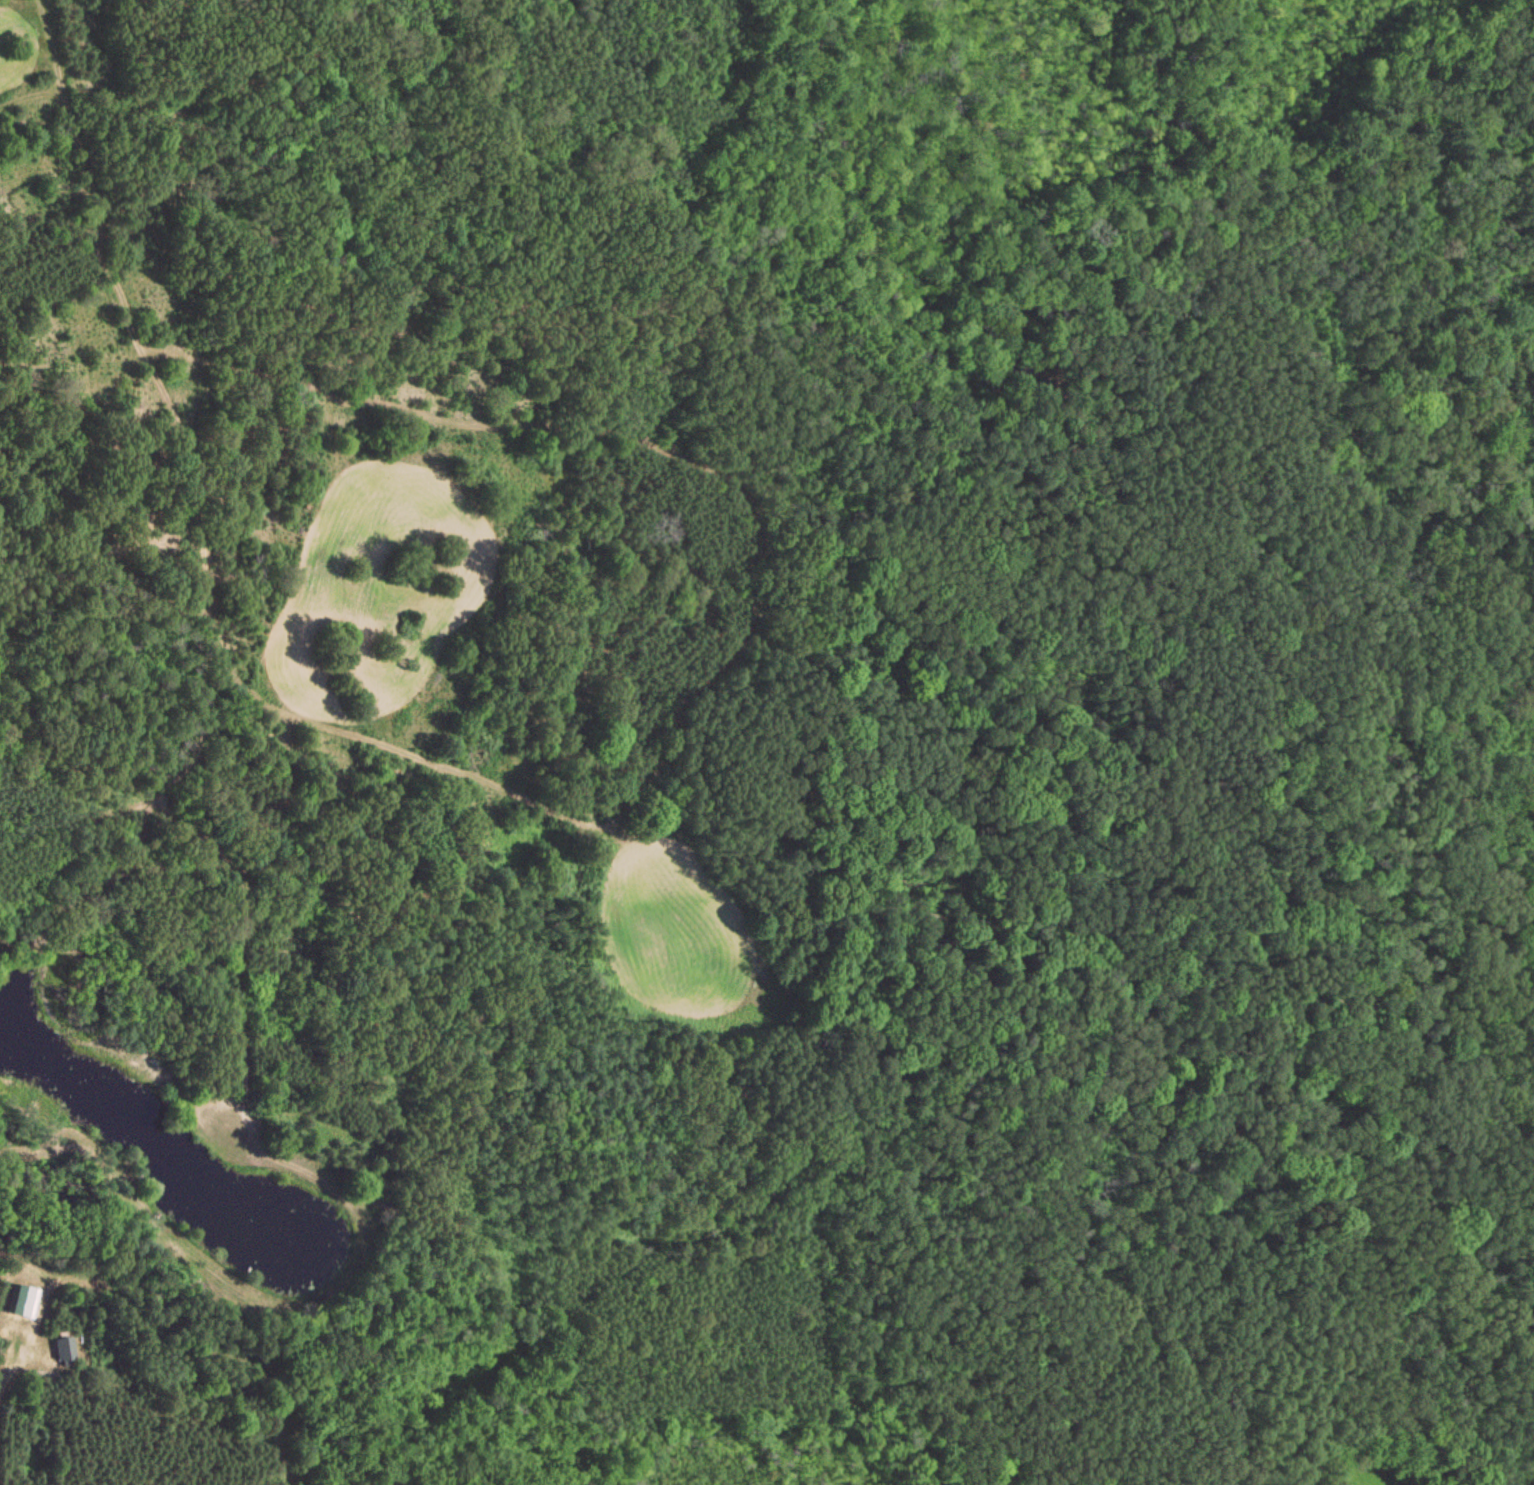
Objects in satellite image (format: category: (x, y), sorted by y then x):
road: (853, 1259)
road: (1522, 1278)
building: (61, 1347)

